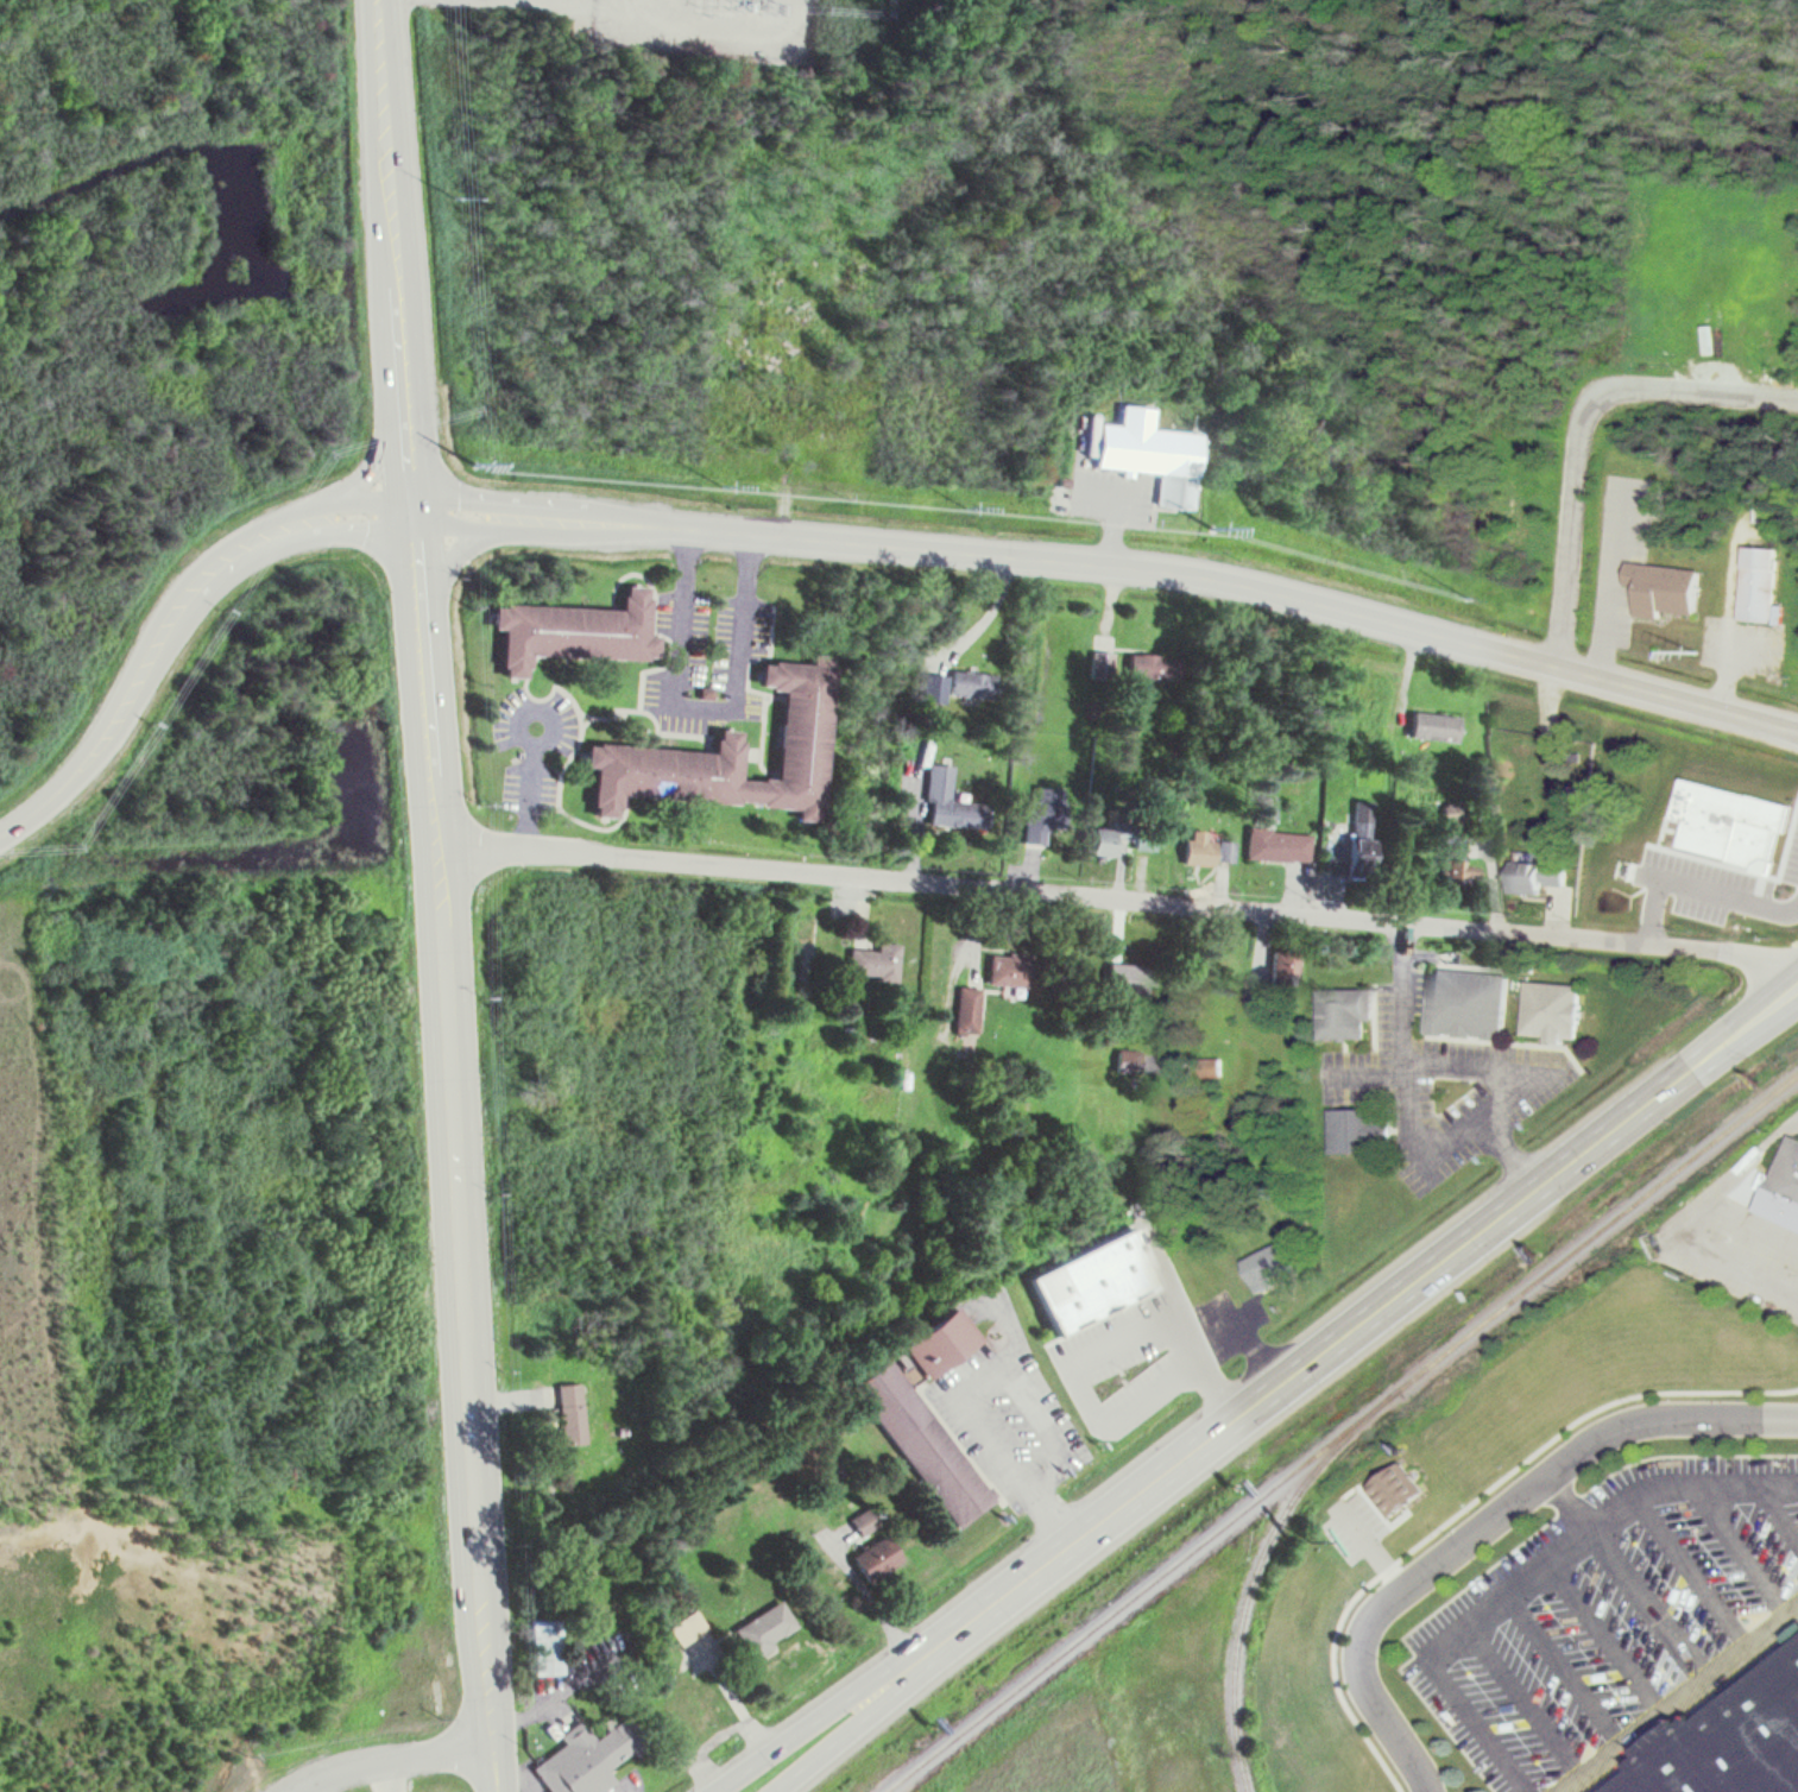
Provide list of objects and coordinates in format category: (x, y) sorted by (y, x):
power substation: (711, 26)
road: (392, 172)
power tower: (455, 197)
road: (409, 421)
road: (1583, 429)
road: (387, 431)
building: (1149, 449)
power tower: (479, 463)
road: (377, 499)
road: (544, 503)
road: (416, 510)
road: (454, 525)
road: (1110, 529)
road: (582, 532)
road: (444, 562)
road: (419, 570)
building: (1759, 579)
road: (1603, 581)
road: (1243, 583)
building: (1670, 599)
power tower: (477, 607)
road: (189, 616)
road: (153, 623)
building: (578, 632)
building: (1103, 665)
building: (1149, 667)
road: (1723, 674)
building: (974, 684)
building: (936, 688)
building: (1437, 726)
building: (732, 755)
power tower: (485, 803)
building: (954, 803)
building: (1046, 818)
building: (1734, 821)
road: (15, 827)
building: (1365, 838)
building: (1111, 840)
building: (1280, 846)
building: (1204, 848)
building: (1228, 852)
building: (1457, 862)
building: (1538, 876)
building: (1628, 881)
road: (1697, 889)
road: (1118, 897)
building: (876, 961)
building: (1287, 968)
building: (1010, 970)
building: (1133, 980)
road: (1402, 995)
power tower: (486, 998)
building: (1466, 1001)
building: (969, 1010)
building: (1554, 1011)
road: (1743, 1012)
building: (1346, 1014)
road: (1747, 1037)
building: (1129, 1062)
road: (1449, 1067)
road: (1364, 1069)
building: (1363, 1129)
building: (1790, 1184)
power tower: (494, 1193)
road: (460, 1204)
road: (1698, 1237)
building: (1272, 1264)
building: (1103, 1276)
building: (1174, 1325)
road: (1329, 1348)
road: (1093, 1350)
road: (1253, 1352)
building: (1136, 1354)
power tower: (507, 1368)
road: (969, 1386)
building: (573, 1412)
building: (927, 1412)
railway: (1339, 1432)
building: (1398, 1487)
road: (1780, 1507)
building: (865, 1521)
road: (1488, 1522)
road: (1740, 1546)
road: (1371, 1548)
building: (879, 1557)
road: (1693, 1565)
railway: (1256, 1567)
road: (1629, 1572)
road: (1534, 1575)
parking lot: (1613, 1617)
building: (689, 1627)
building: (768, 1627)
road: (1605, 1635)
building: (547, 1645)
road: (1565, 1667)
power tower: (523, 1690)
road: (1677, 1696)
road: (1522, 1703)
road: (844, 1710)
road: (872, 1710)
building: (1734, 1742)
road: (387, 1753)
building: (591, 1753)
road: (381, 1773)

